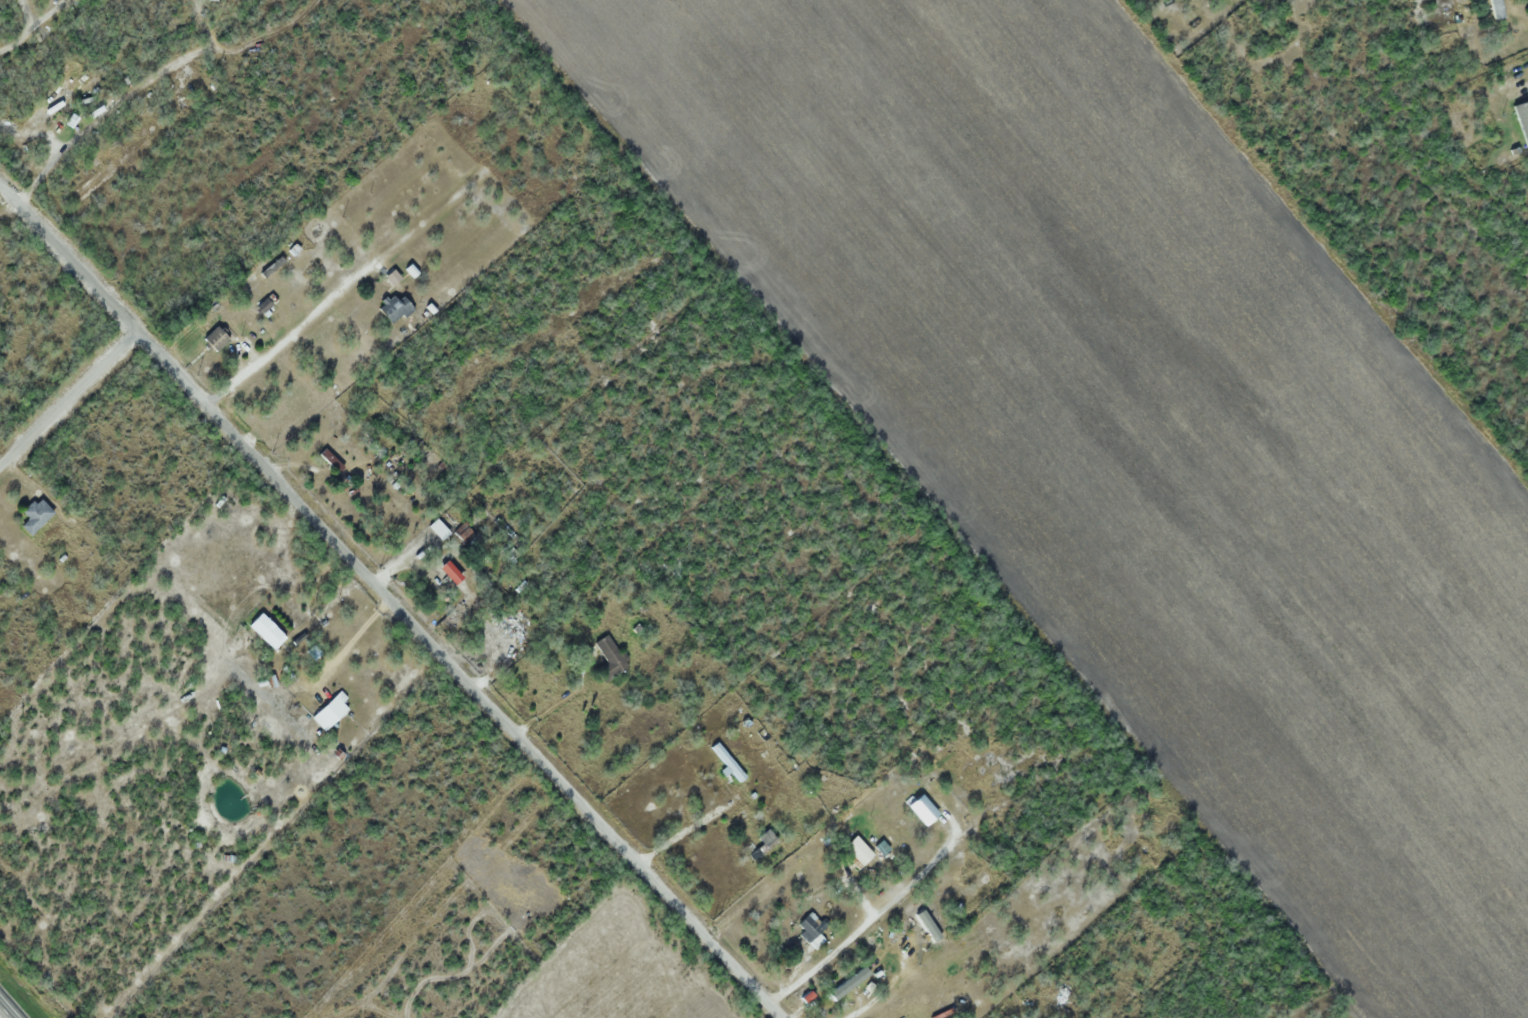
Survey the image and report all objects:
building: (1497, 9)
road: (24, 14)
road: (47, 15)
road: (16, 42)
building: (183, 77)
building: (1516, 106)
building: (47, 110)
road: (53, 160)
building: (264, 305)
building: (397, 308)
road: (296, 327)
building: (217, 338)
road: (69, 399)
building: (332, 460)
building: (37, 516)
building: (440, 529)
building: (466, 533)
building: (453, 573)
road: (390, 599)
building: (268, 632)
building: (611, 659)
building: (331, 712)
building: (917, 791)
building: (860, 851)
building: (927, 925)
building: (811, 930)
building: (844, 986)
road: (7, 1009)

